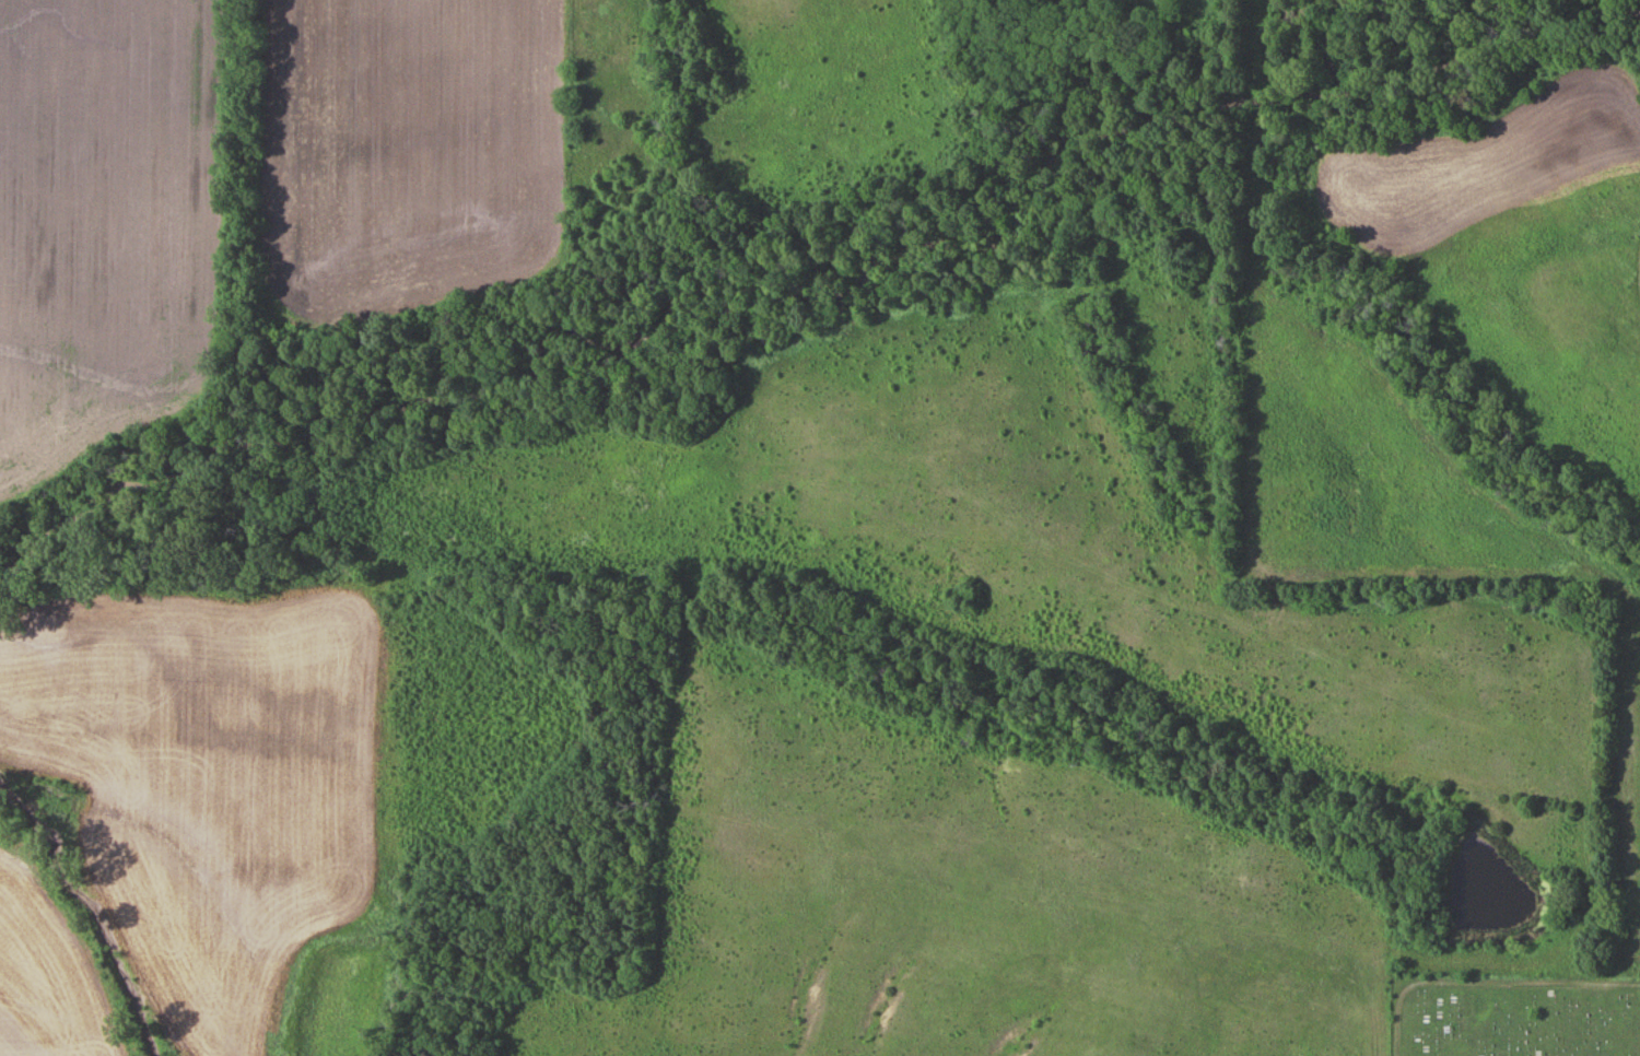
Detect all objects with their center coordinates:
road: (1488, 983)
park: (1515, 1016)

